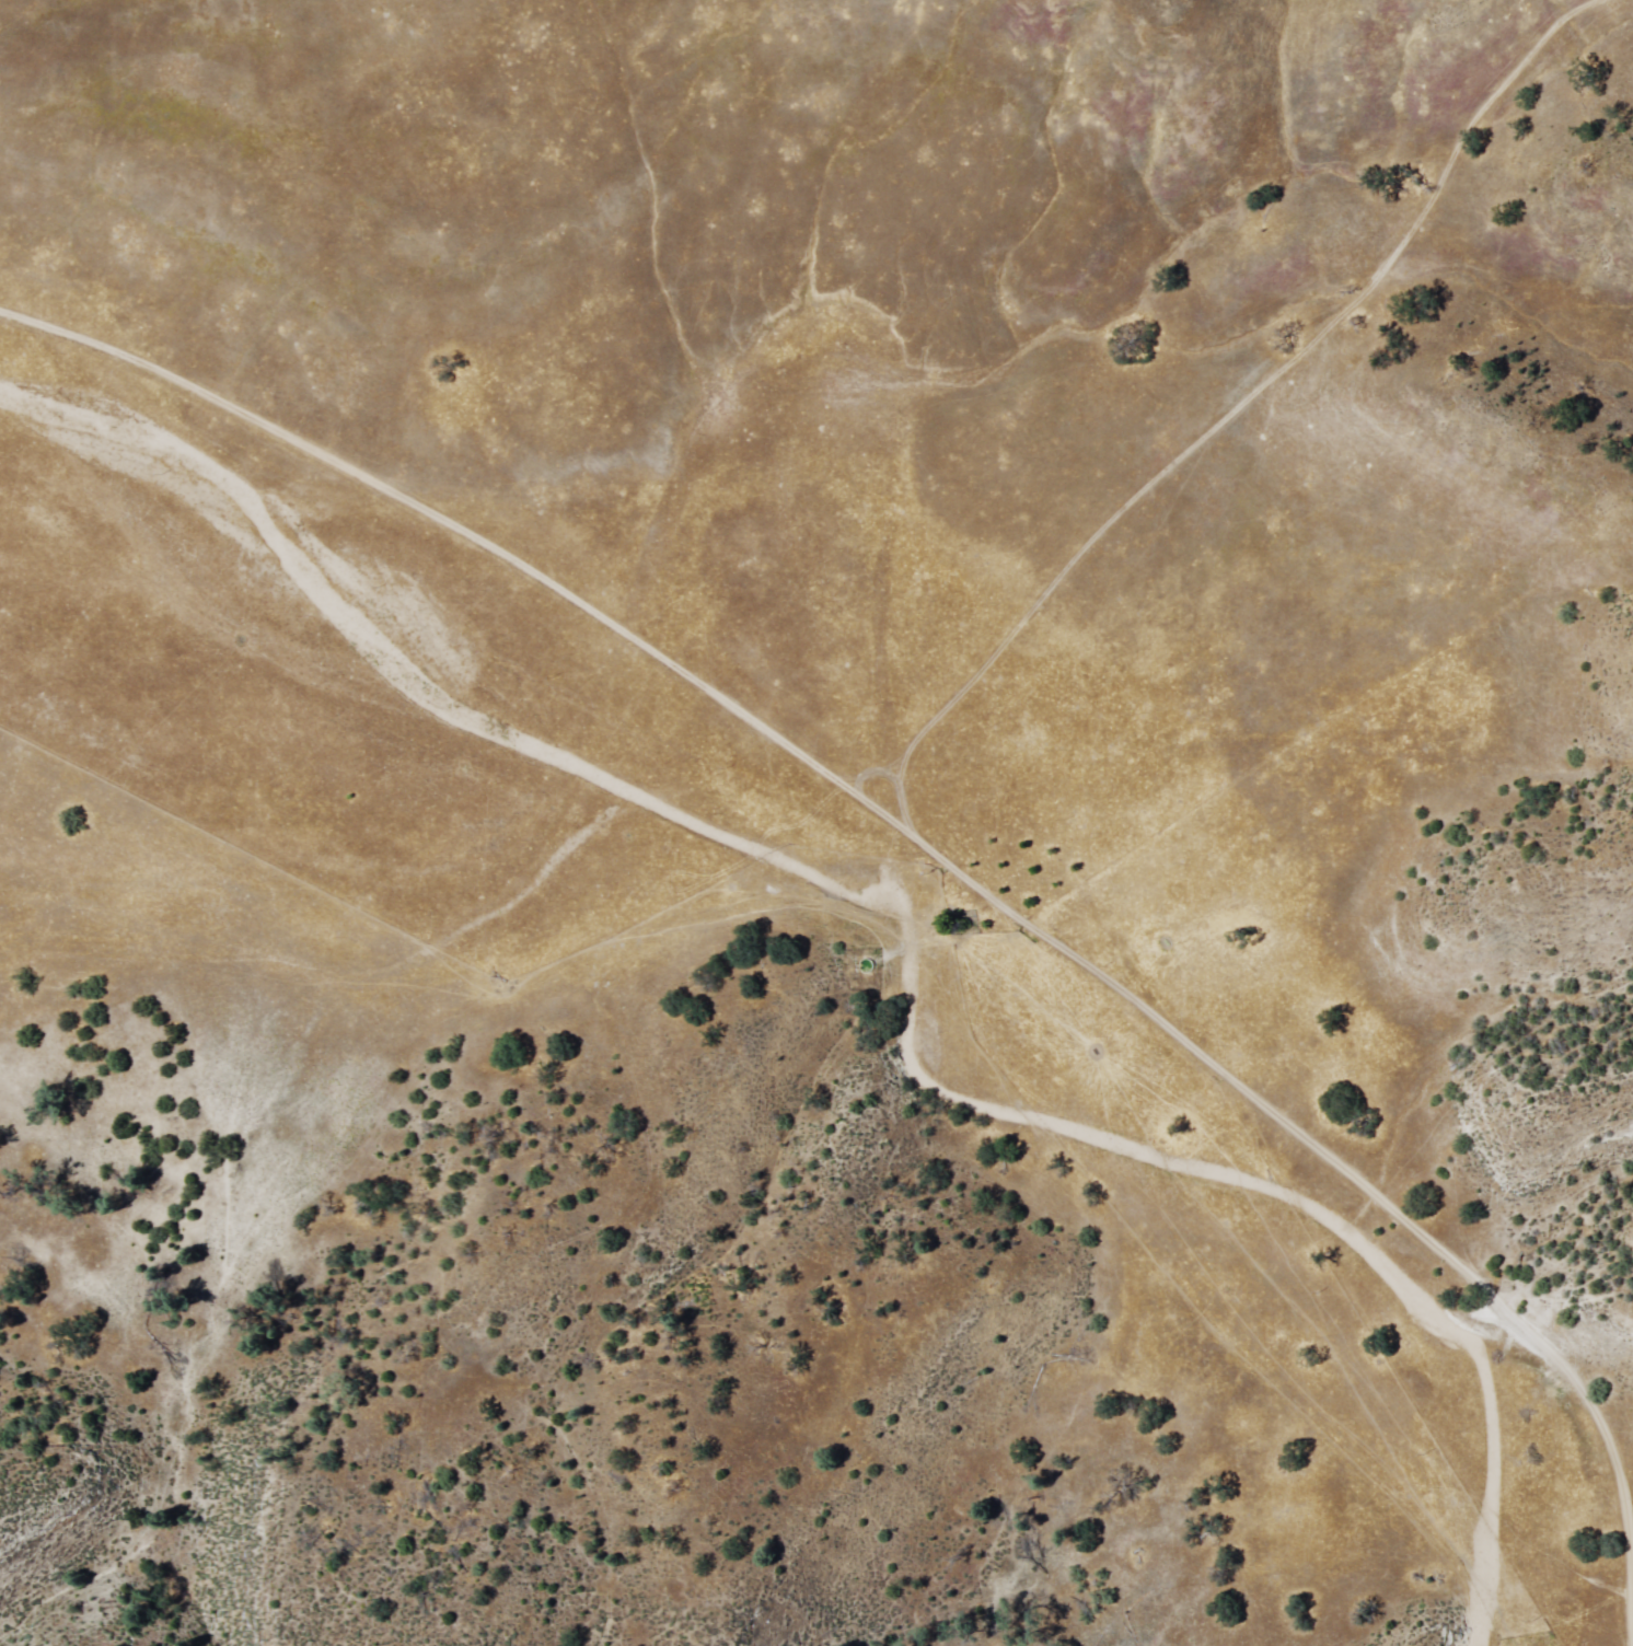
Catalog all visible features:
road: (1234, 409)
road: (941, 860)

